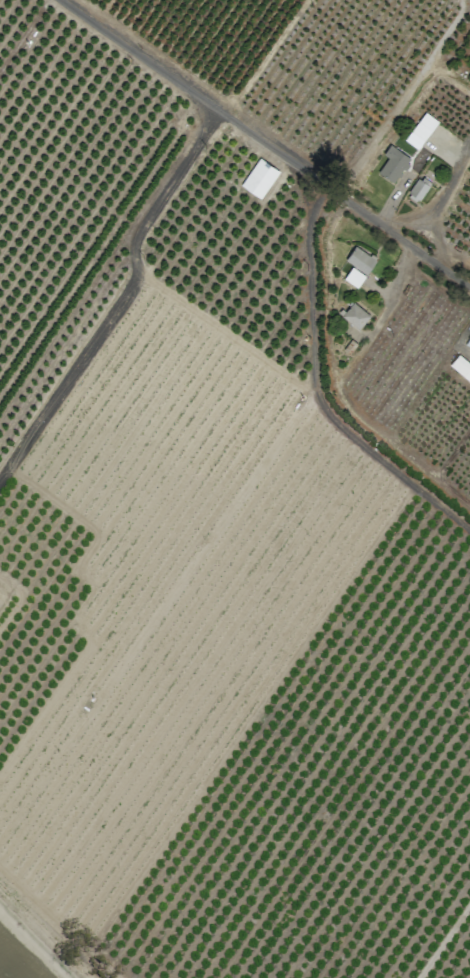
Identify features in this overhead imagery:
building: (420, 130)
road: (268, 142)
building: (393, 167)
building: (259, 178)
building: (417, 189)
road: (439, 207)
road: (406, 222)
building: (360, 260)
building: (353, 277)
road: (125, 303)
building: (354, 316)
building: (468, 343)
building: (460, 368)
road: (316, 392)

